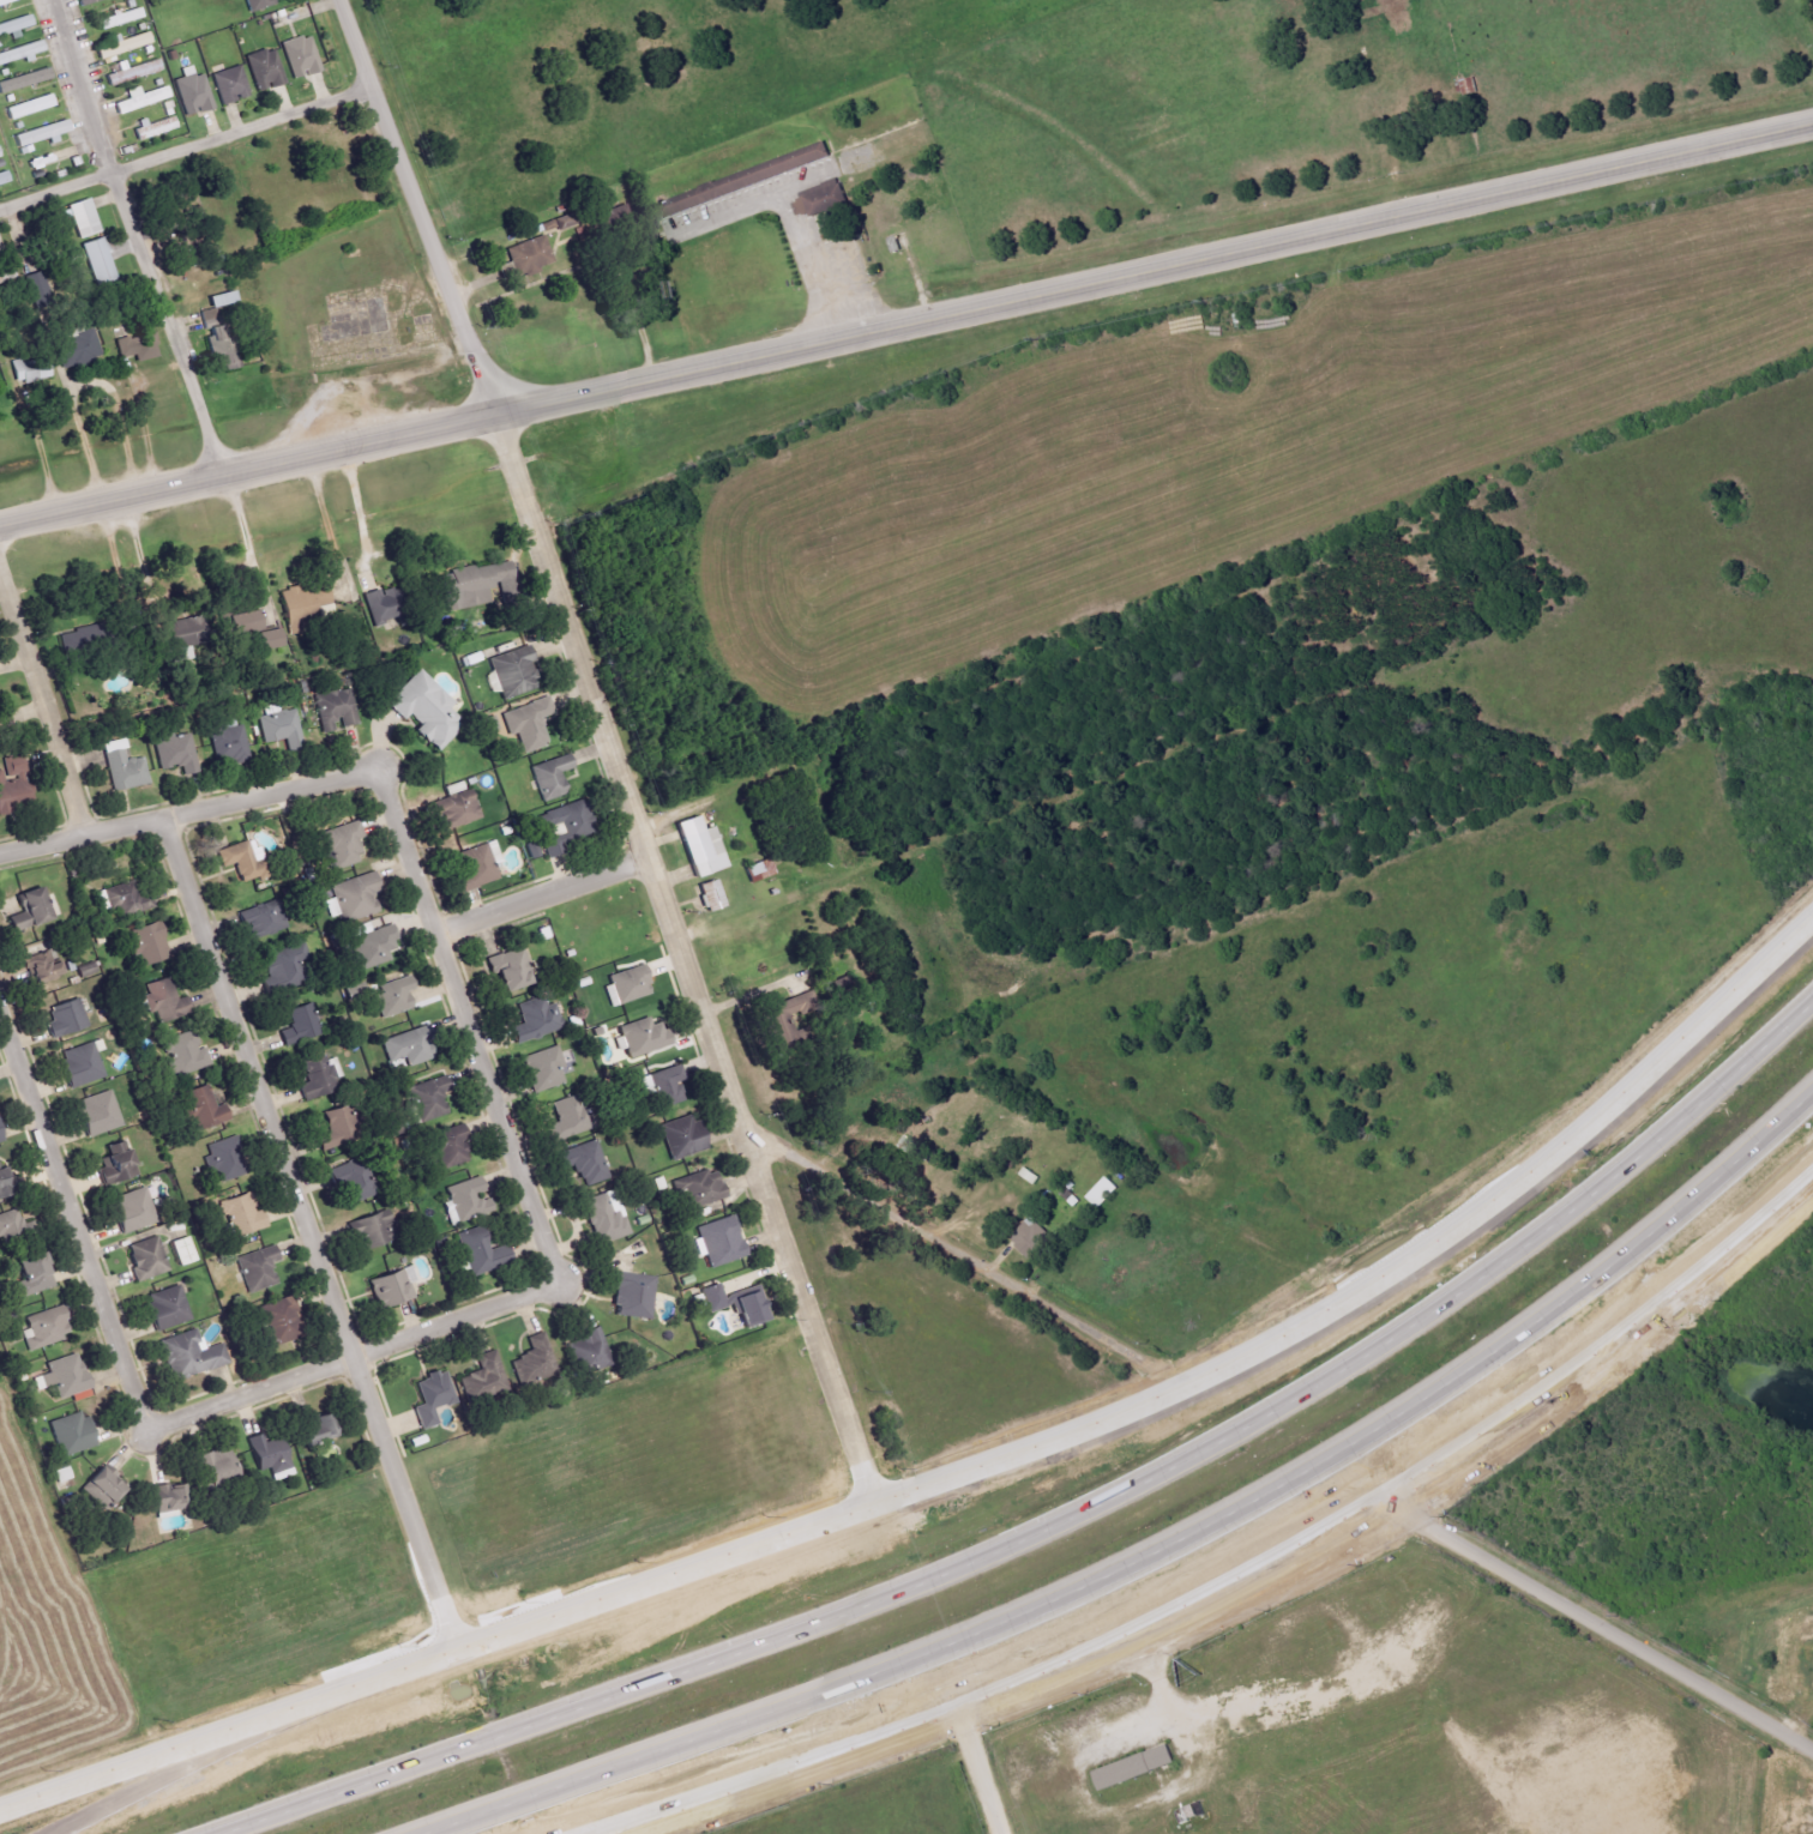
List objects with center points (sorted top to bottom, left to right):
building: (79, 1)
building: (257, 4)
building: (115, 16)
building: (121, 18)
building: (14, 29)
building: (118, 43)
building: (22, 53)
building: (297, 61)
building: (133, 72)
building: (264, 73)
building: (24, 80)
building: (231, 84)
road: (76, 88)
building: (1468, 88)
building: (194, 91)
building: (143, 98)
building: (30, 107)
building: (156, 128)
road: (237, 131)
building: (42, 134)
building: (0, 153)
building: (5, 177)
building: (740, 185)
road: (55, 192)
building: (821, 200)
building: (84, 218)
building: (565, 221)
road: (787, 222)
building: (530, 257)
building: (100, 261)
building: (37, 283)
building: (222, 300)
road: (164, 324)
road: (905, 326)
building: (133, 343)
building: (71, 348)
building: (31, 369)
road: (88, 392)
road: (41, 458)
road: (359, 513)
road: (326, 524)
road: (246, 542)
building: (476, 584)
building: (303, 599)
building: (378, 607)
road: (146, 621)
building: (241, 622)
building: (181, 633)
building: (266, 639)
building: (77, 640)
building: (510, 676)
road: (42, 696)
building: (422, 706)
building: (336, 710)
building: (529, 723)
building: (489, 724)
building: (230, 743)
road: (607, 750)
building: (177, 753)
building: (125, 766)
building: (546, 776)
building: (14, 783)
building: (456, 810)
building: (565, 826)
road: (77, 835)
road: (398, 838)
building: (337, 844)
building: (700, 846)
building: (239, 859)
building: (478, 864)
building: (760, 870)
building: (711, 894)
road: (537, 897)
building: (355, 898)
building: (127, 900)
building: (29, 910)
building: (261, 921)
building: (144, 942)
building: (371, 946)
building: (43, 967)
building: (285, 967)
building: (511, 969)
building: (88, 971)
building: (624, 982)
building: (389, 996)
building: (159, 999)
building: (66, 1018)
building: (783, 1018)
building: (535, 1021)
building: (302, 1026)
building: (642, 1037)
building: (404, 1044)
building: (186, 1054)
building: (544, 1068)
building: (78, 1070)
building: (320, 1076)
building: (662, 1084)
building: (430, 1099)
building: (205, 1108)
building: (98, 1114)
building: (566, 1120)
building: (336, 1129)
building: (681, 1136)
building: (0, 1139)
building: (0, 1144)
building: (444, 1144)
building: (224, 1159)
building: (116, 1163)
building: (584, 1163)
building: (353, 1181)
building: (5, 1183)
building: (700, 1188)
building: (1098, 1192)
building: (462, 1199)
building: (133, 1209)
building: (242, 1214)
building: (606, 1219)
building: (11, 1224)
road: (70, 1226)
building: (369, 1230)
road: (305, 1233)
building: (1025, 1237)
building: (715, 1241)
building: (185, 1250)
road: (953, 1251)
building: (481, 1253)
building: (147, 1259)
building: (251, 1266)
building: (34, 1275)
road: (1384, 1278)
building: (385, 1287)
building: (627, 1295)
building: (731, 1303)
building: (168, 1308)
building: (273, 1320)
building: (40, 1327)
road: (432, 1327)
building: (589, 1352)
building: (183, 1353)
road: (1615, 1356)
building: (532, 1367)
building: (62, 1374)
building: (484, 1377)
building: (433, 1398)
building: (314, 1429)
building: (65, 1432)
building: (266, 1458)
building: (217, 1465)
building: (95, 1484)
building: (162, 1497)
road: (1070, 1515)
road: (1164, 1550)
road: (1607, 1628)
road: (436, 1657)
road: (1014, 1688)
road: (1158, 1713)
road: (192, 1764)
building: (1133, 1768)
road: (982, 1769)

